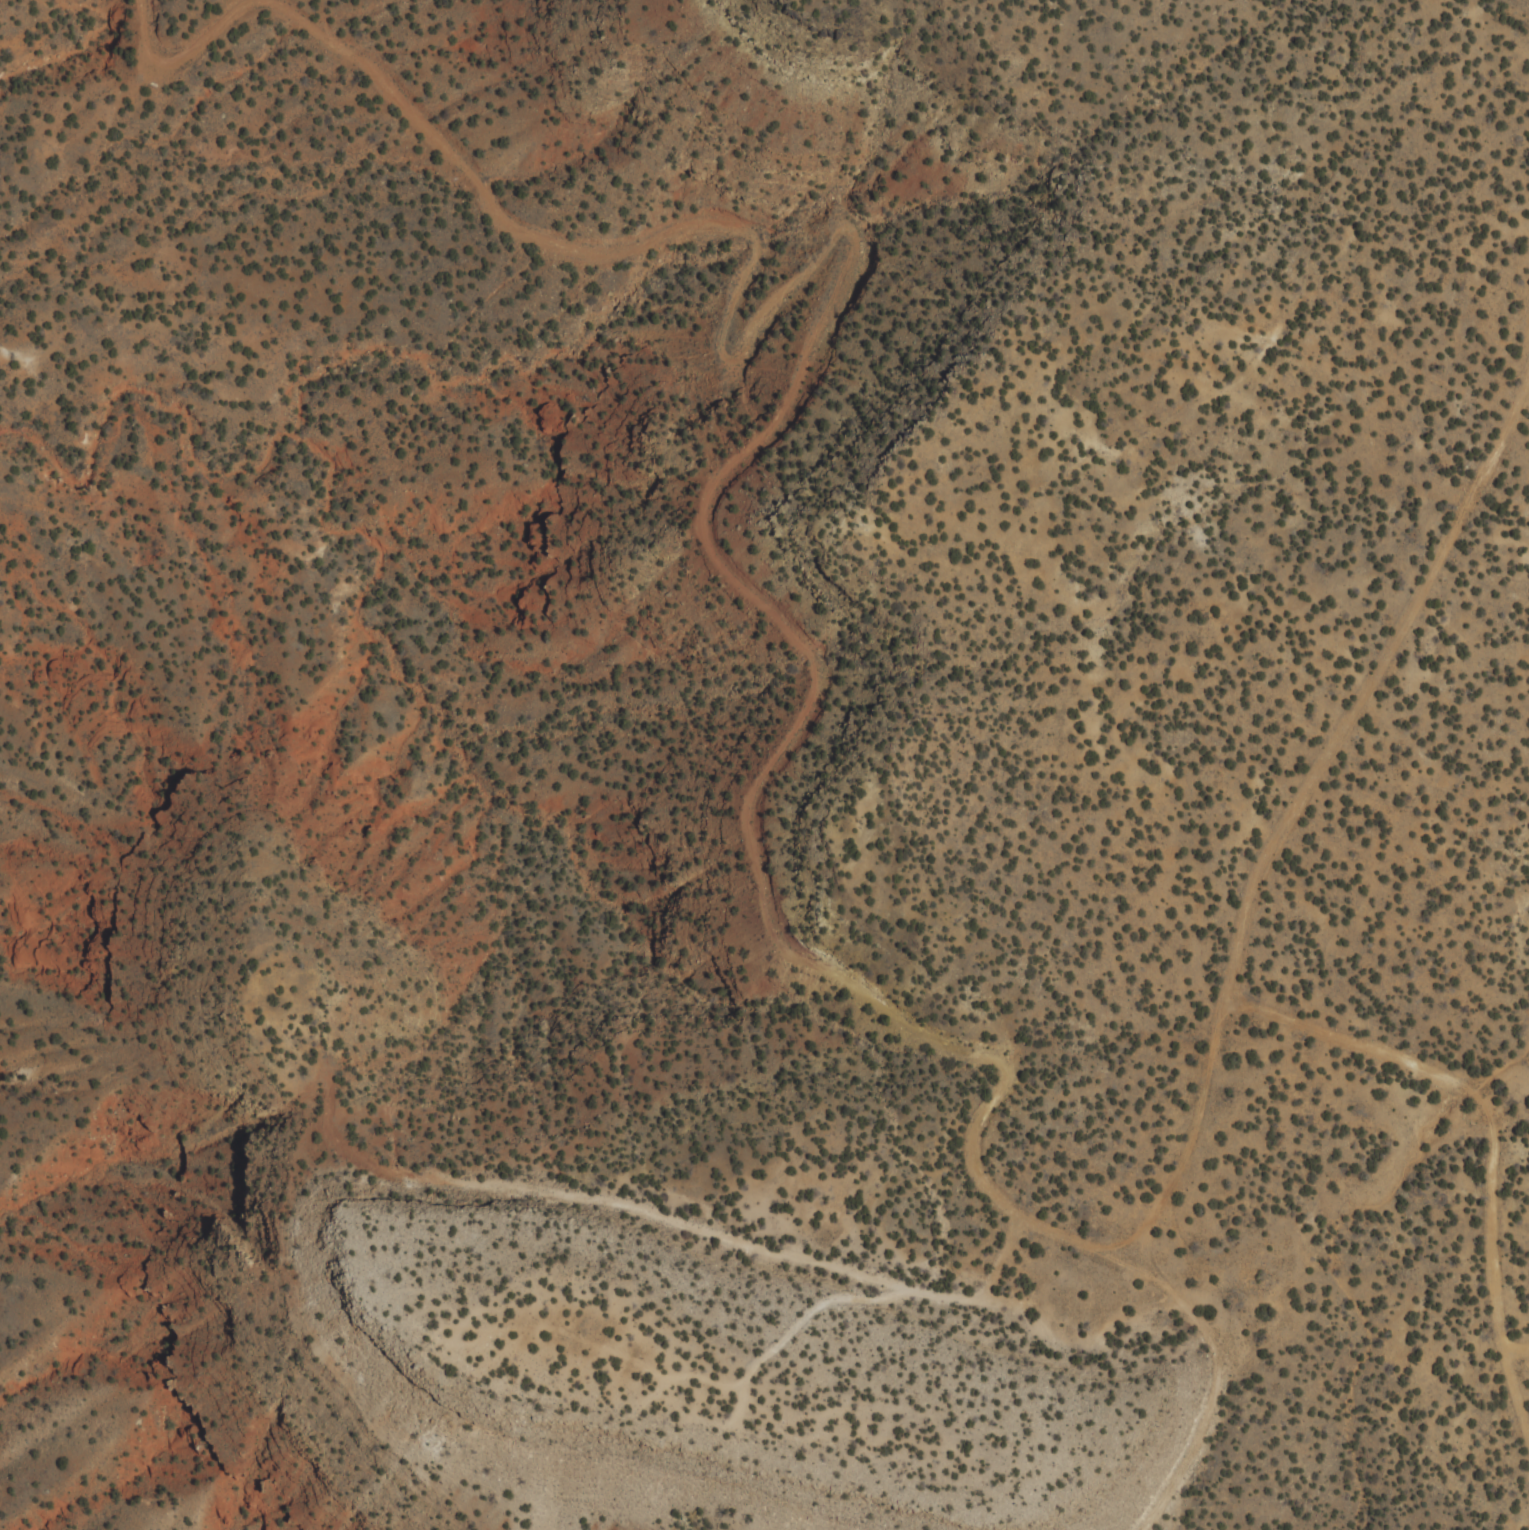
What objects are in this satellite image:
road: (763, 846)
road: (1446, 1155)

